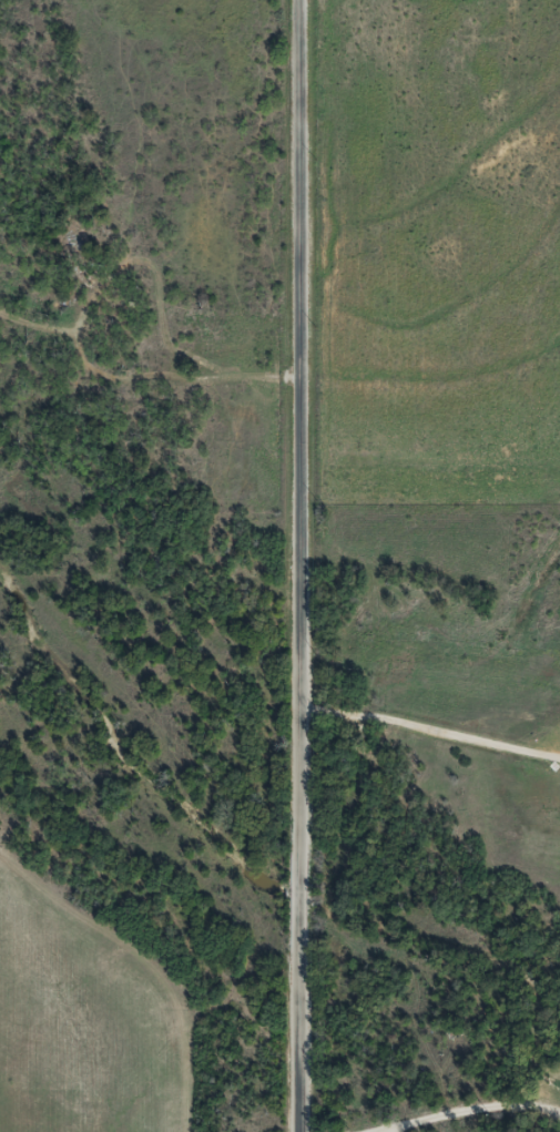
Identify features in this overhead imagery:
road: (316, 565)

